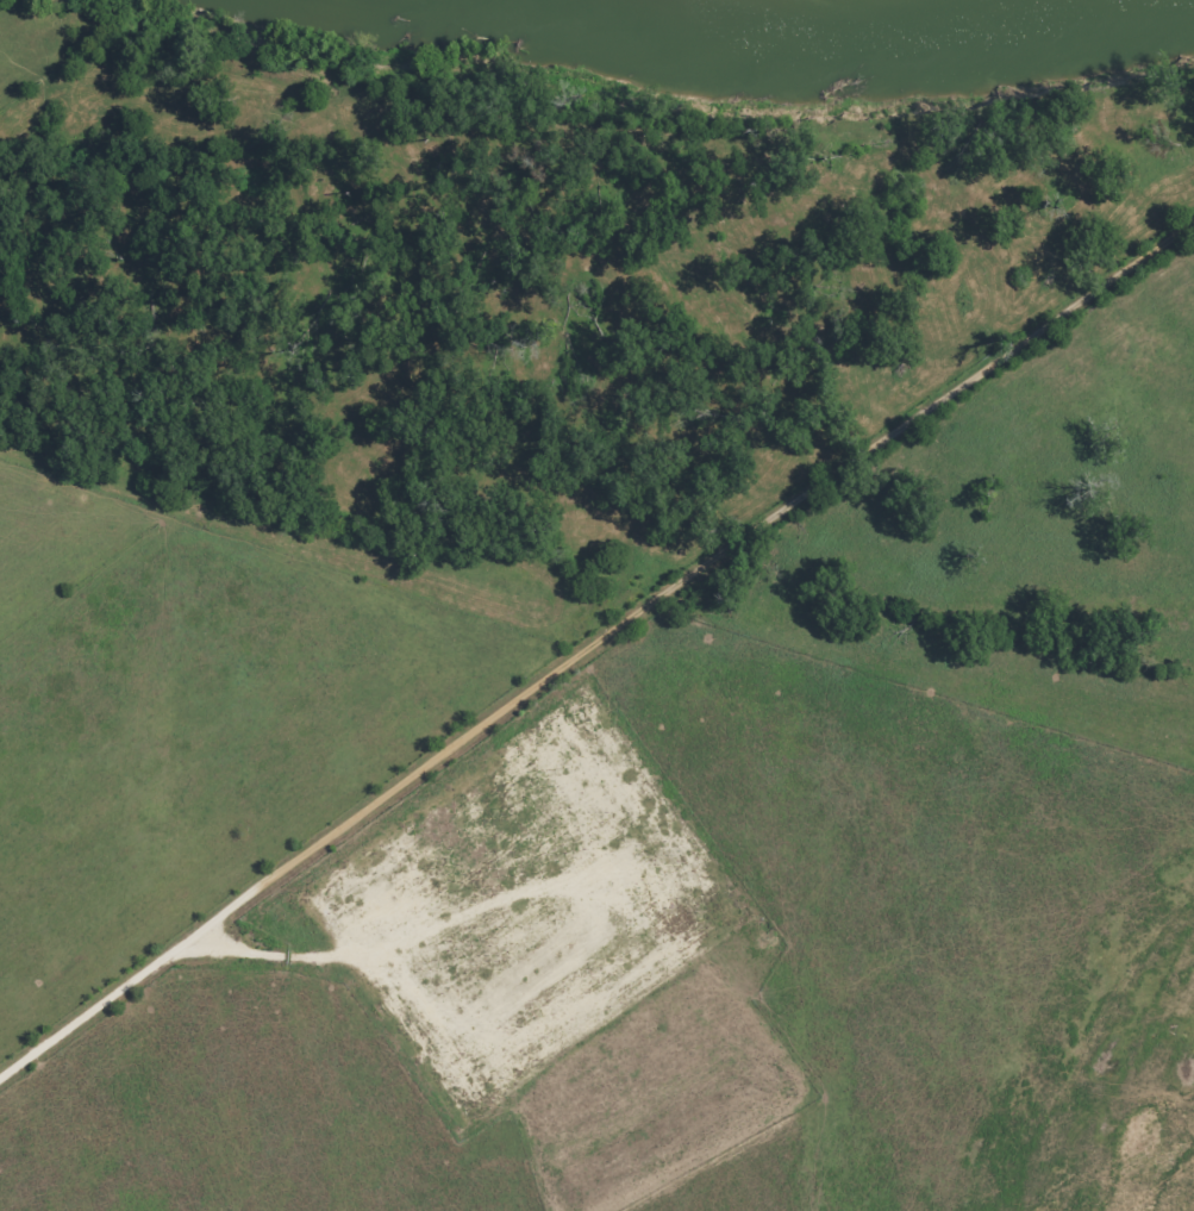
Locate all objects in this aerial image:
road: (363, 420)
road: (588, 643)

